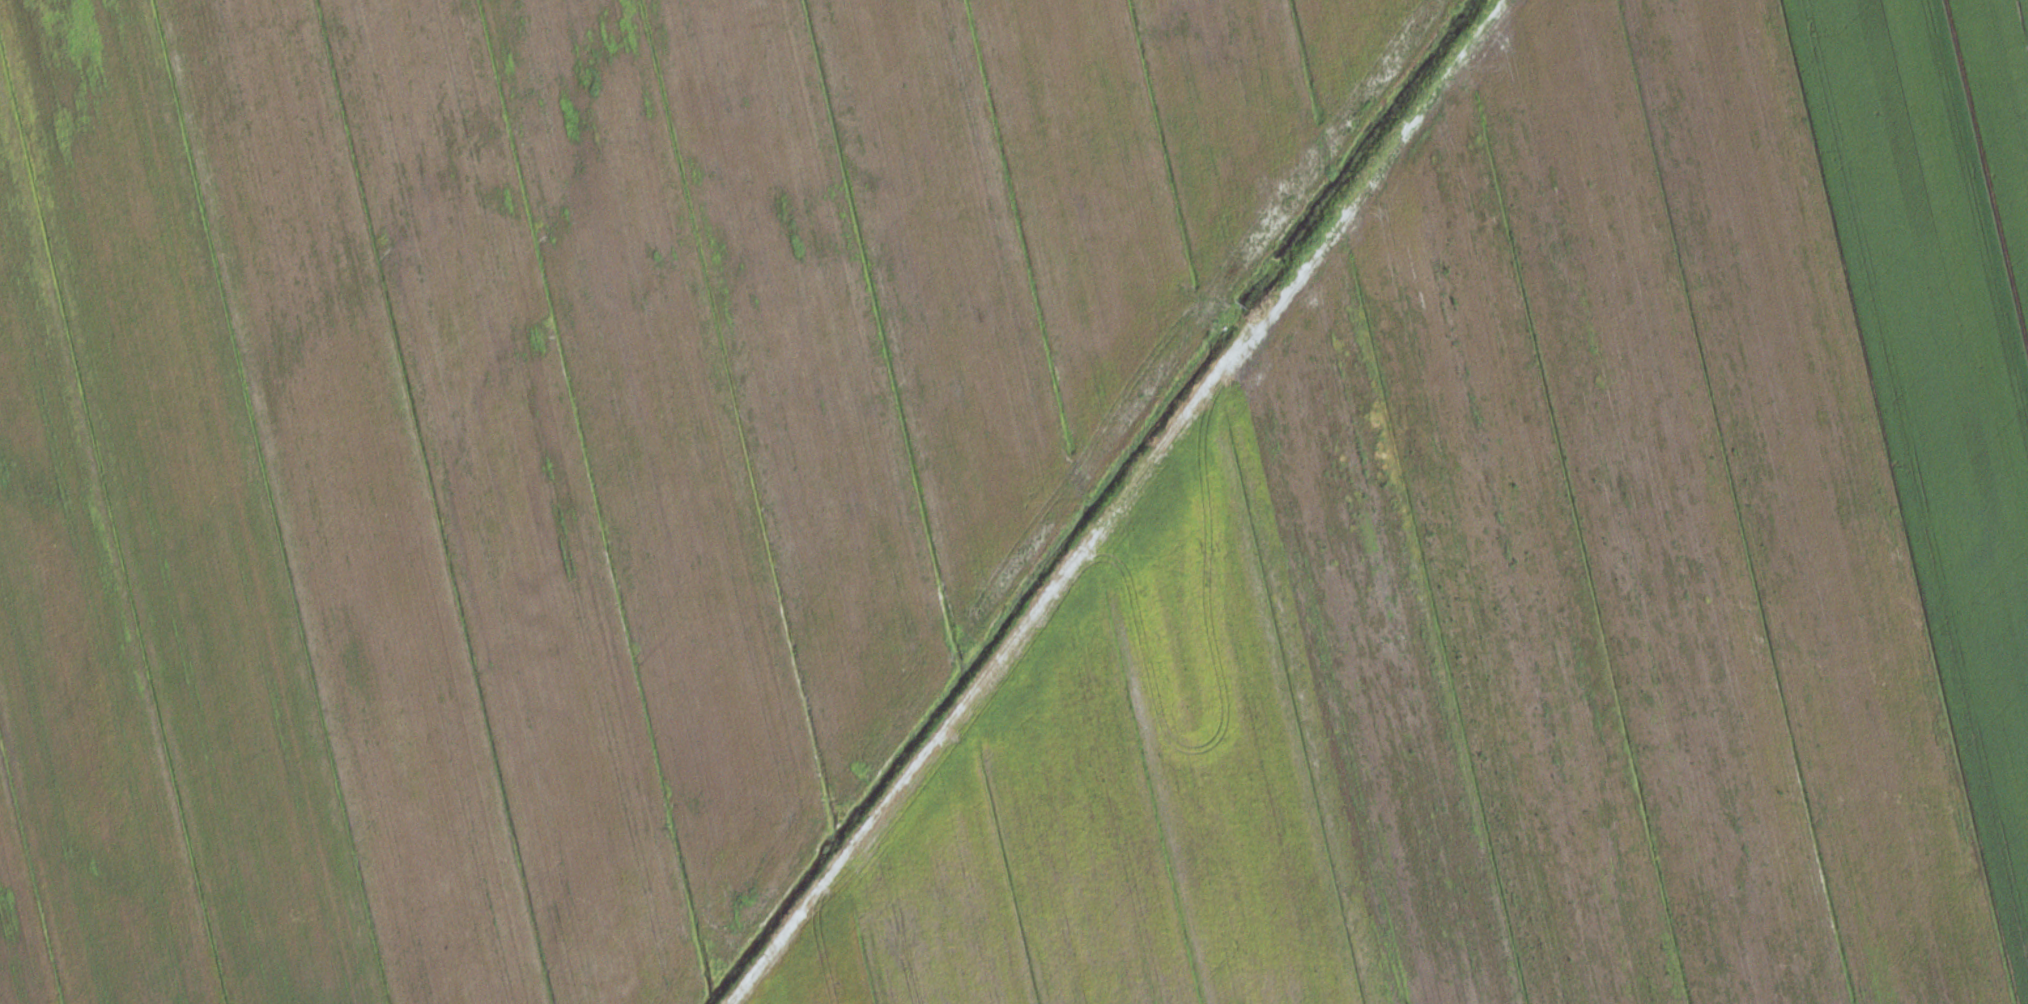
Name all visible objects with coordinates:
crop: (563, 443)
road: (1114, 501)
crop: (1546, 572)

